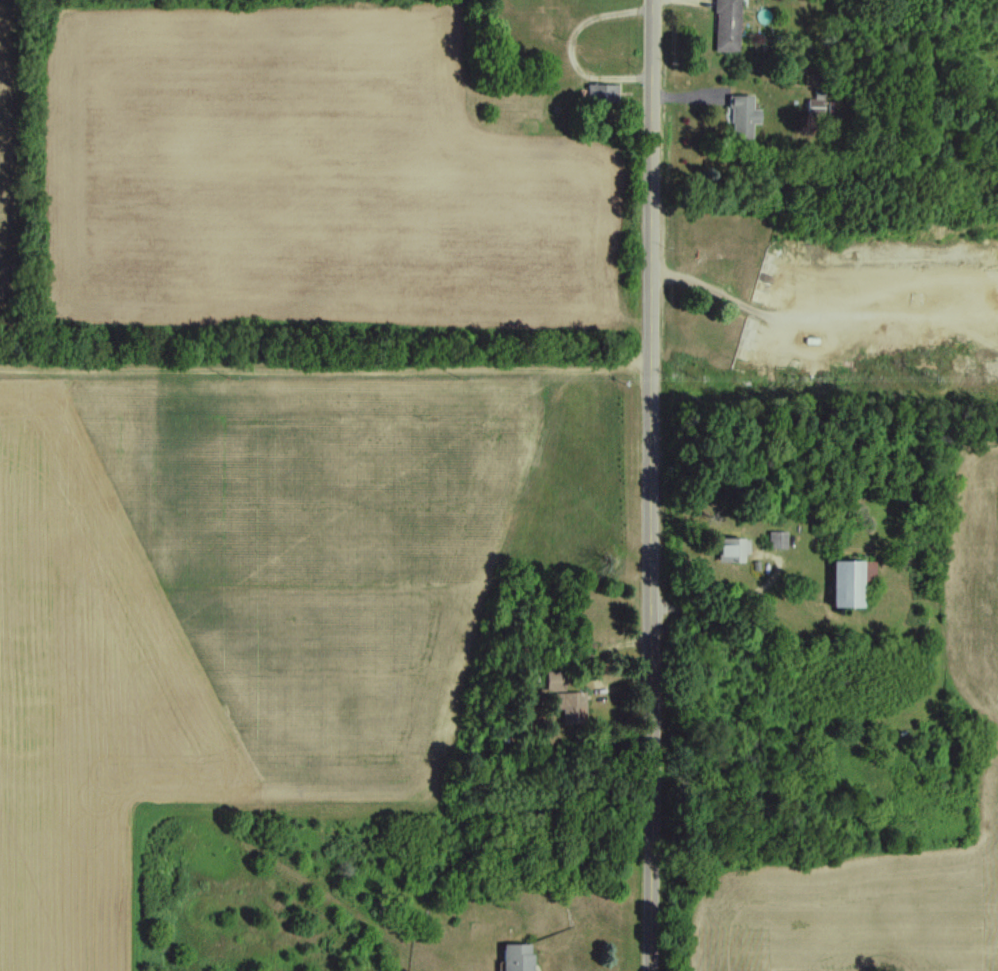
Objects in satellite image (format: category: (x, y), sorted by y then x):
road: (671, 1)
building: (728, 26)
road: (569, 47)
road: (920, 59)
building: (603, 94)
building: (816, 108)
building: (744, 118)
road: (652, 485)
building: (778, 541)
building: (732, 553)
building: (848, 585)
road: (728, 604)
building: (573, 707)
building: (519, 957)

